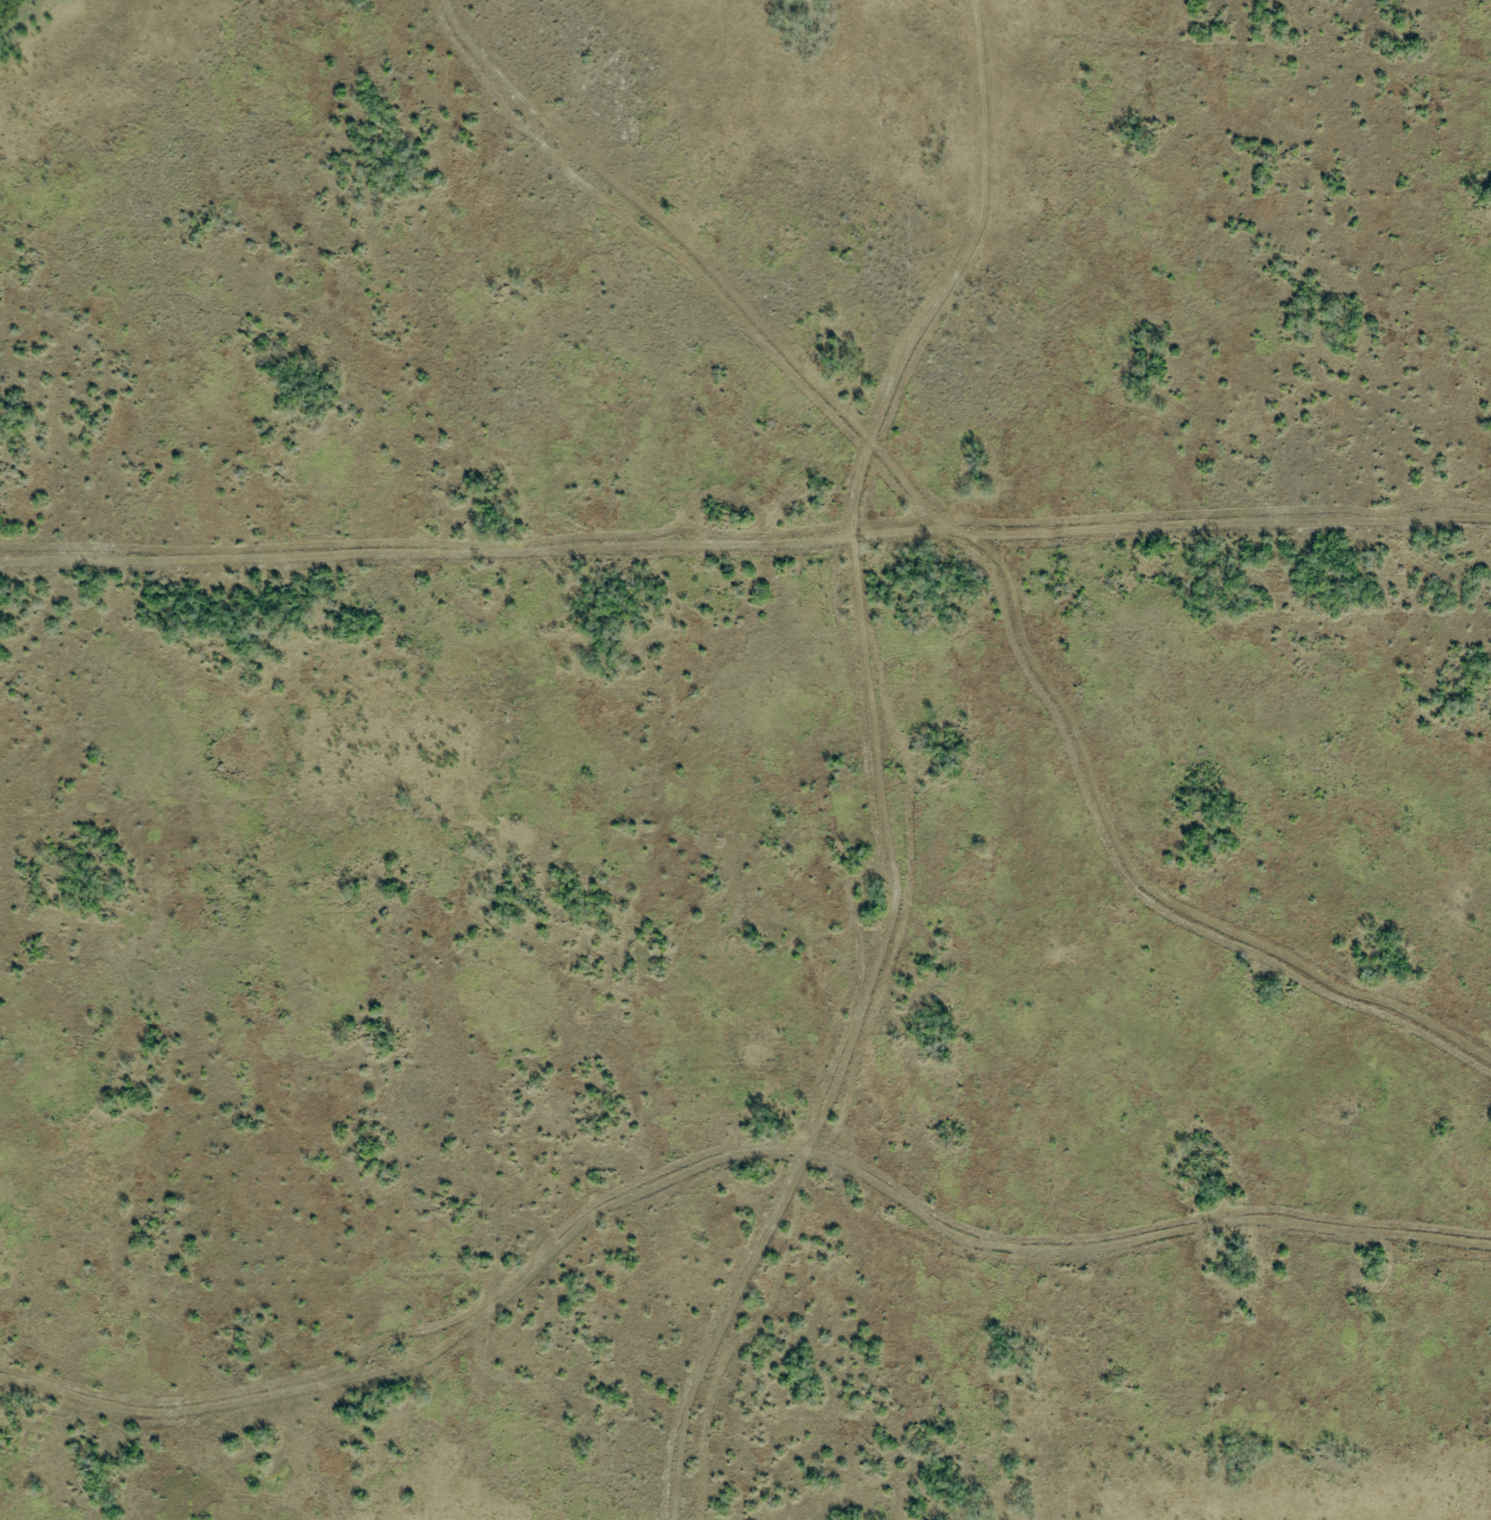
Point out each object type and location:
road: (995, 535)

